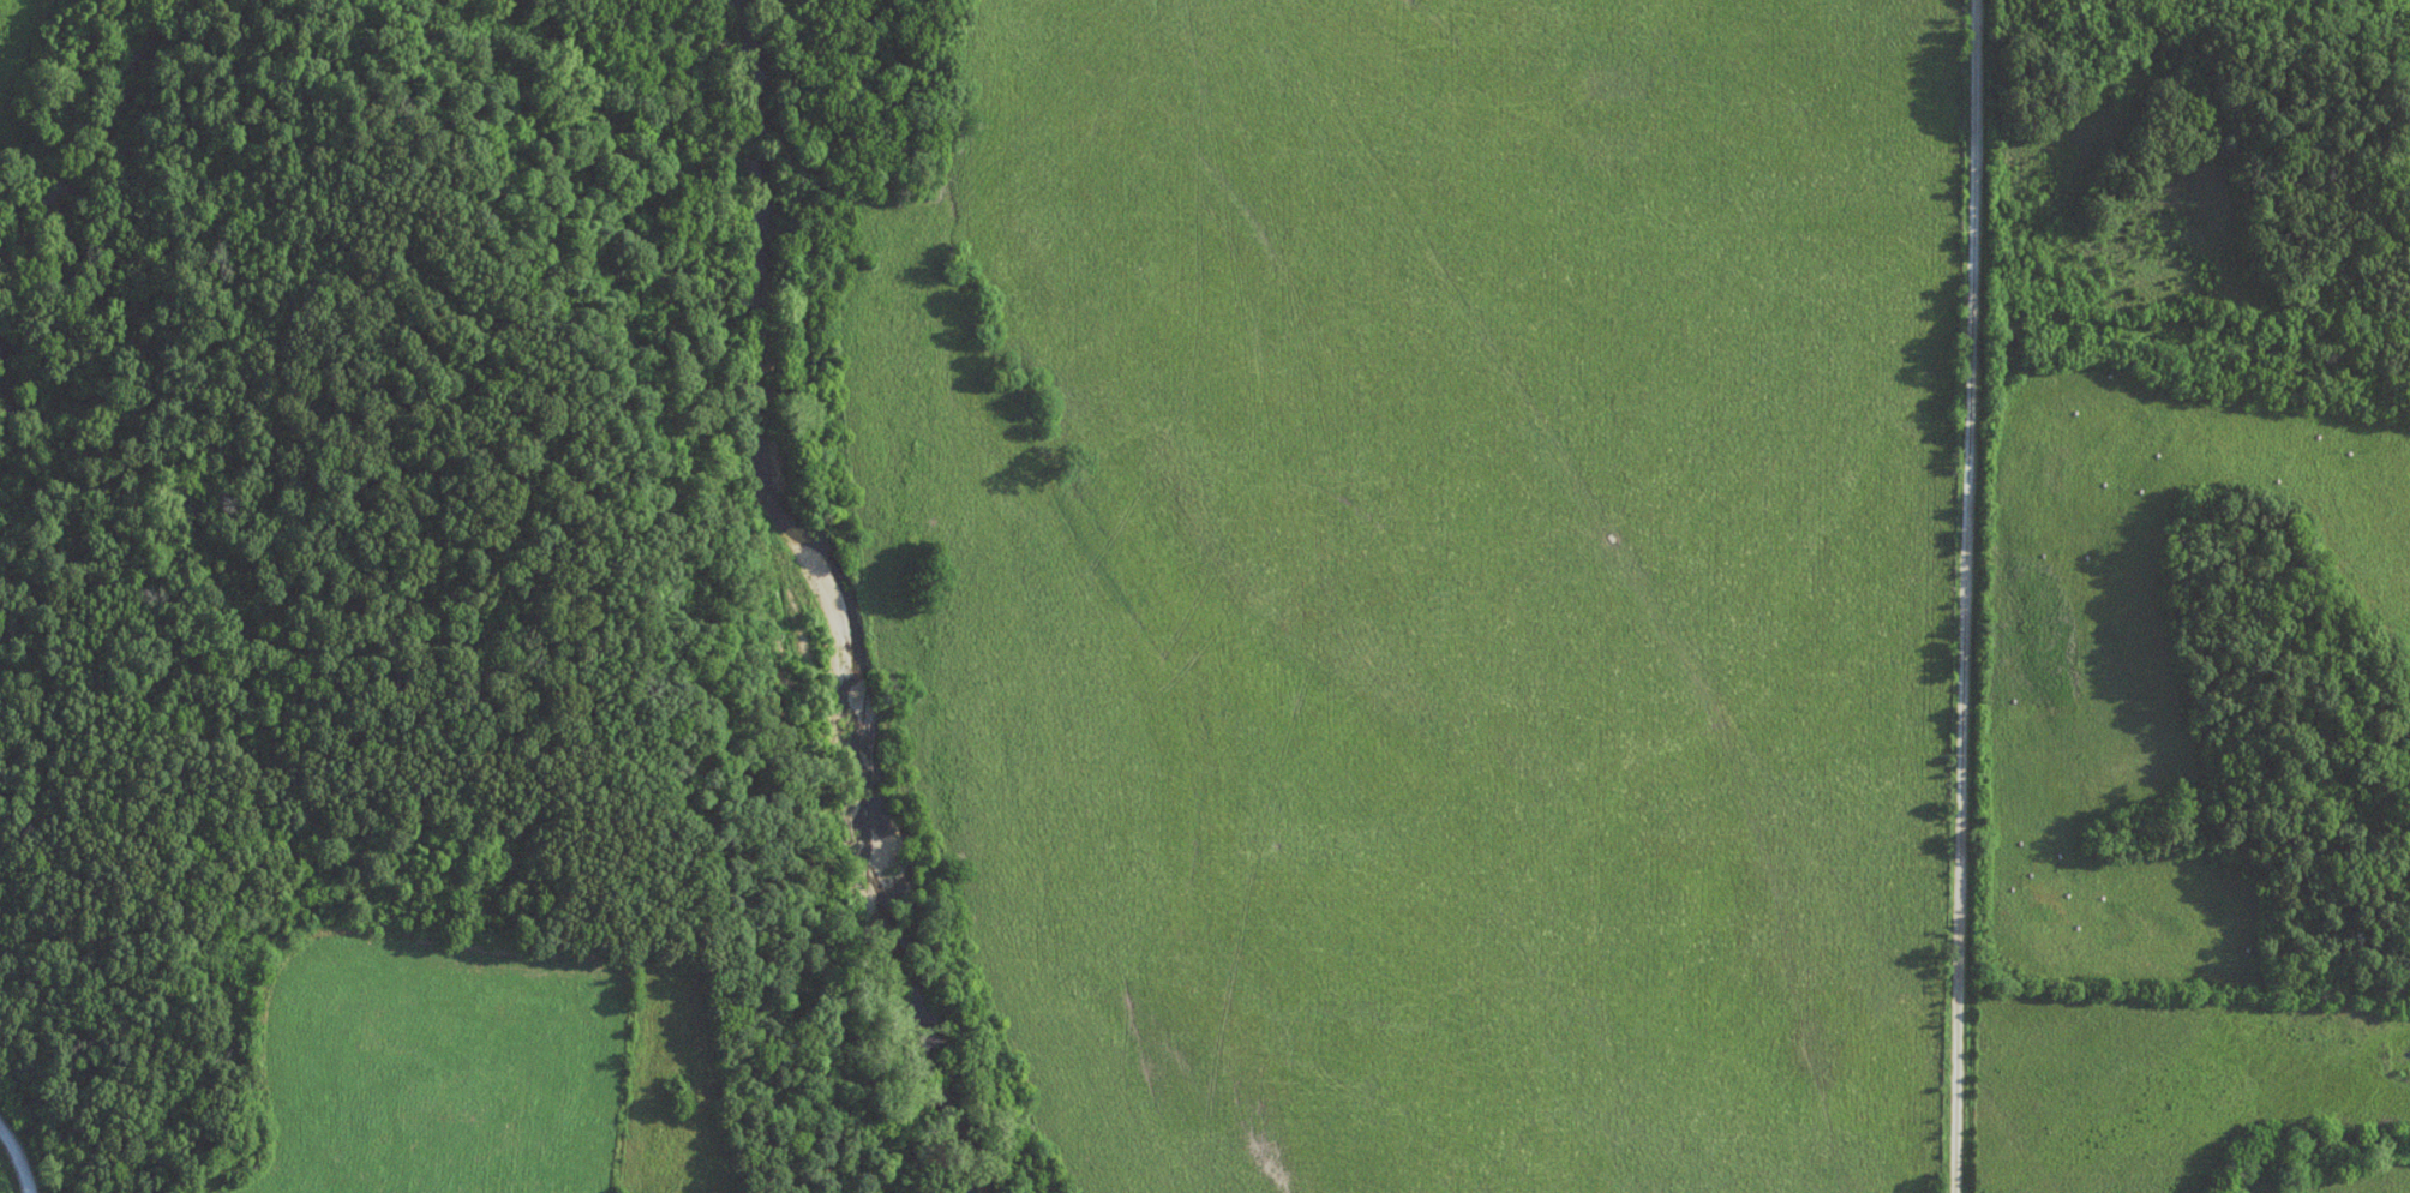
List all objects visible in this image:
road: (1965, 595)
road: (19, 1151)

